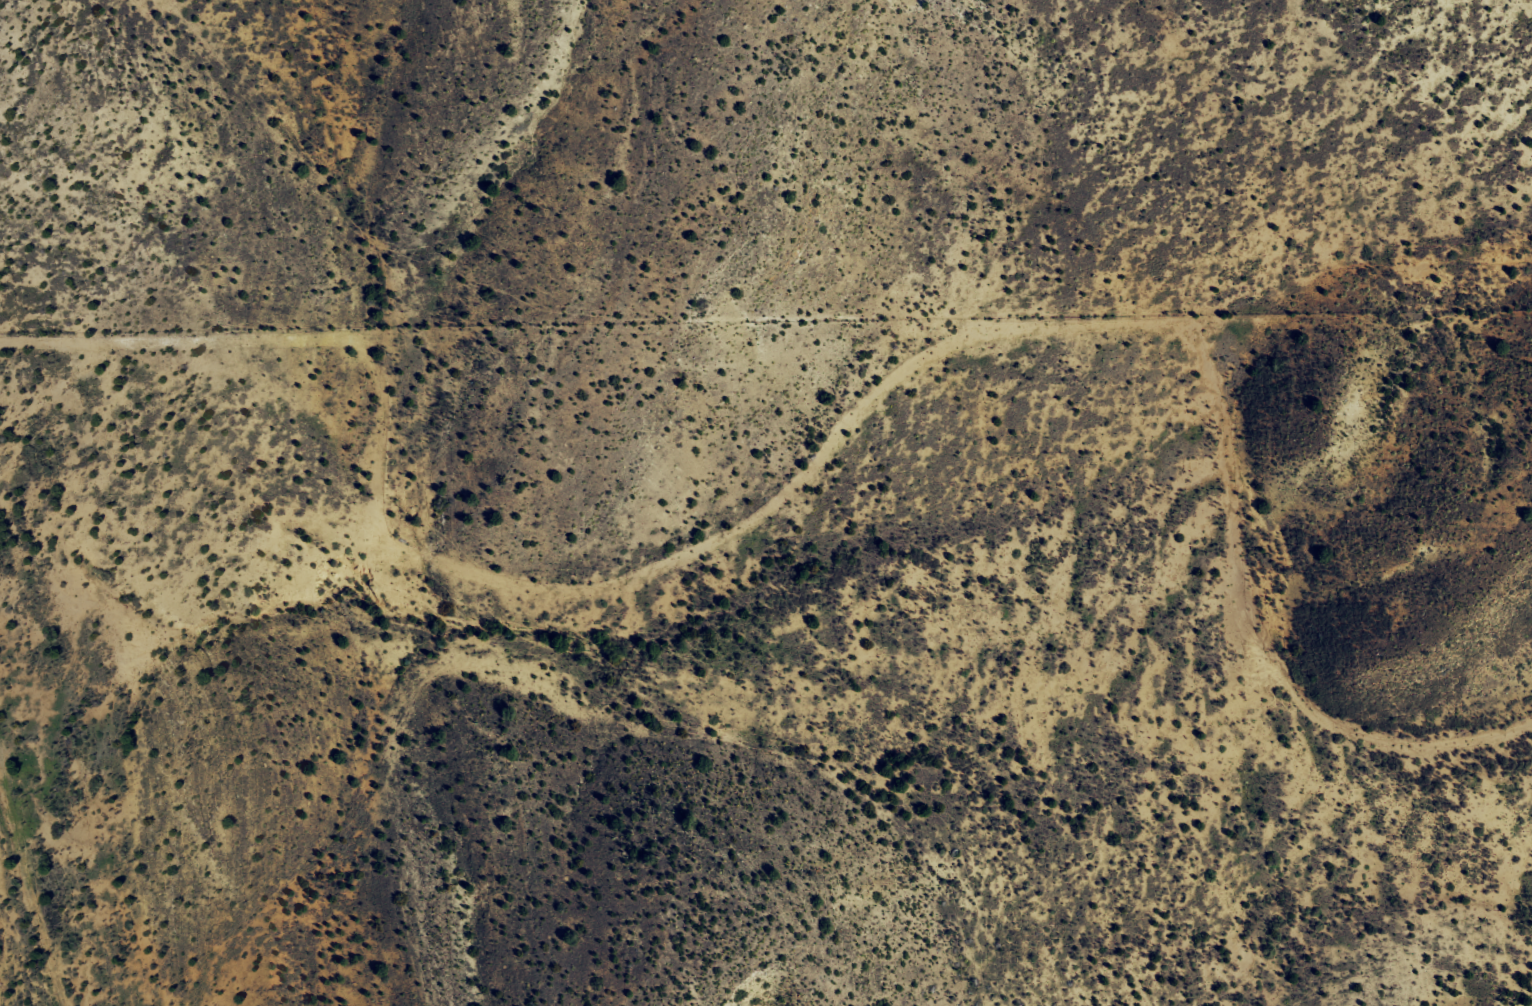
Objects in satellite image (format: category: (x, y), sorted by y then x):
road: (43, 868)

